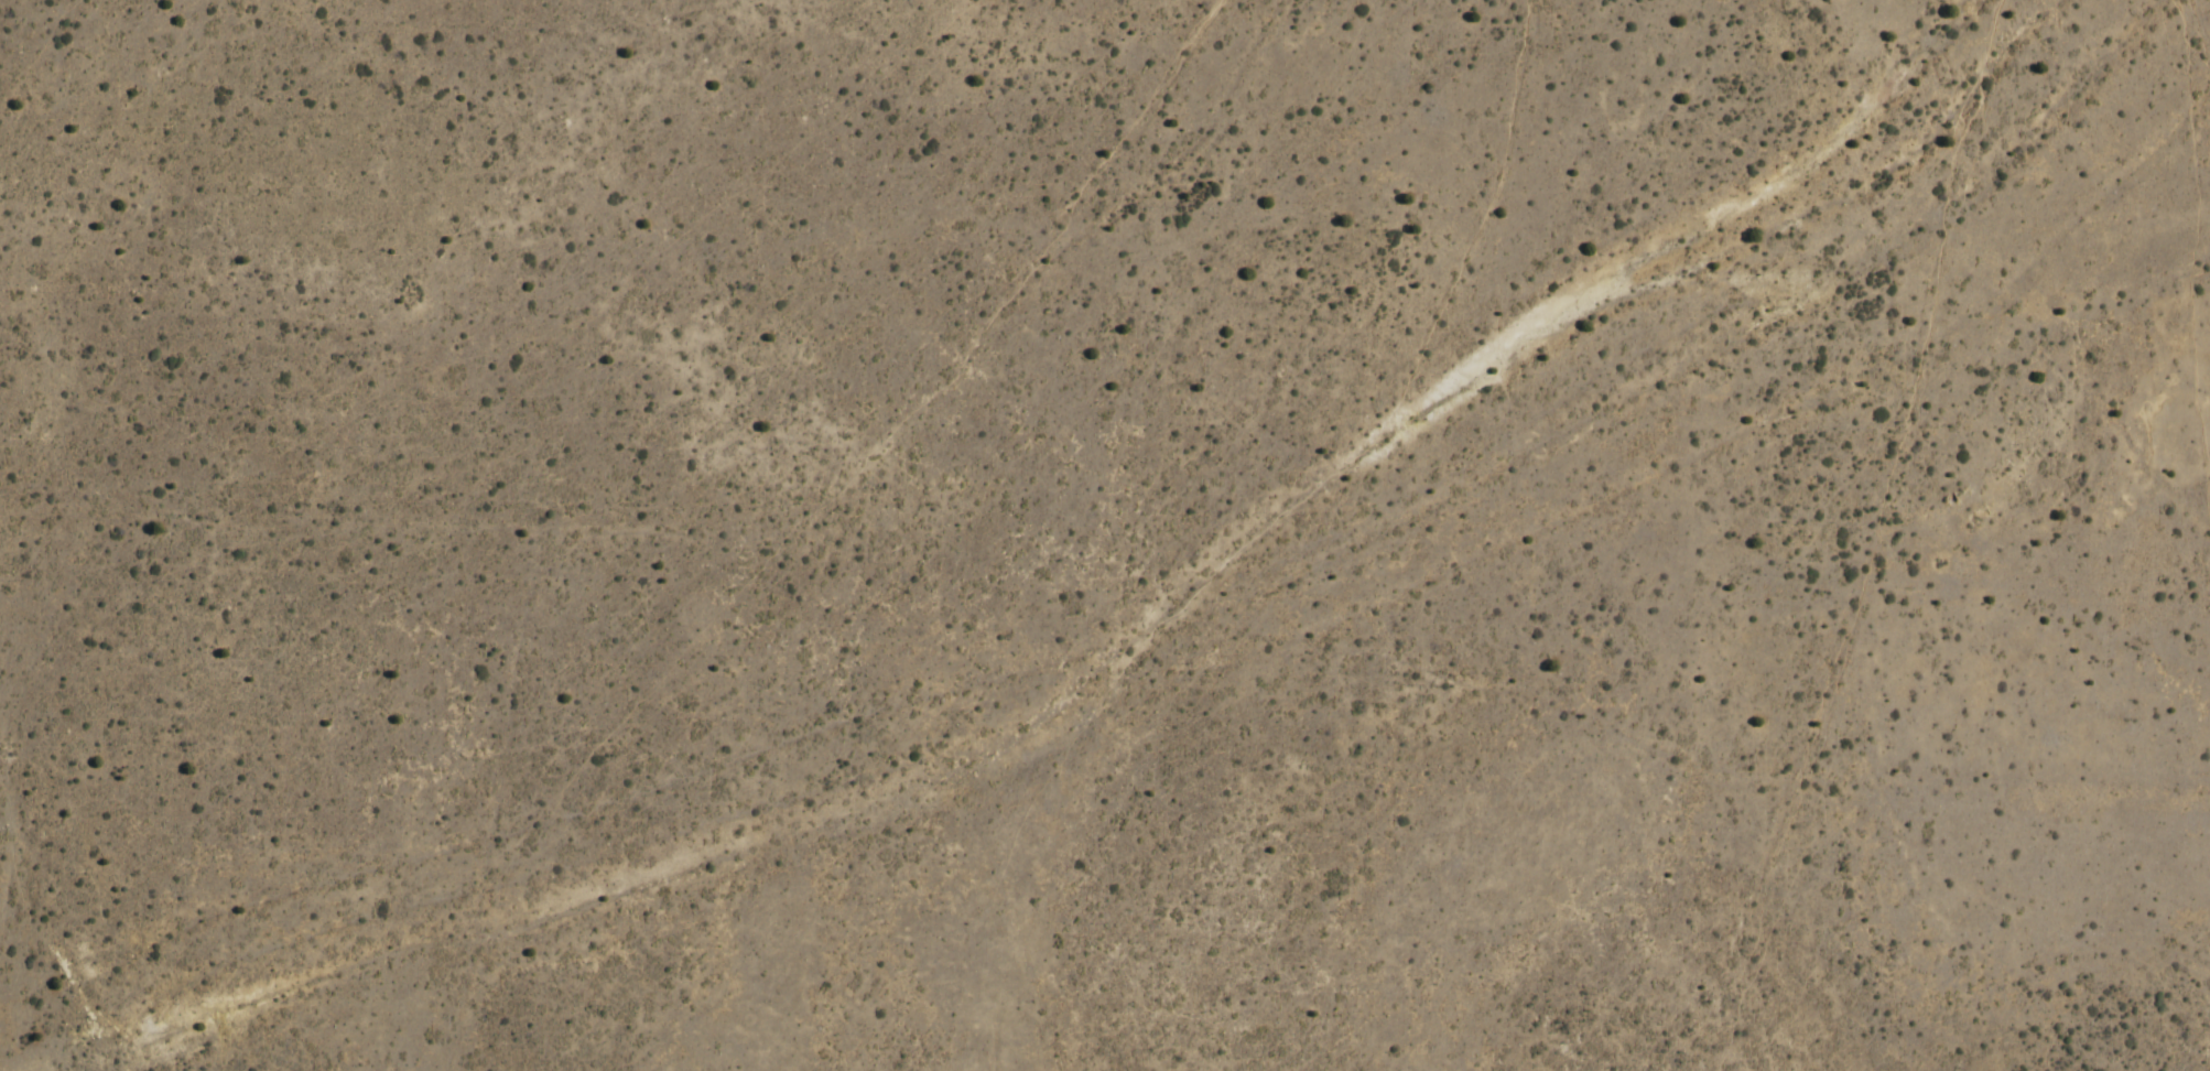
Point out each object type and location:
road: (1144, 660)

